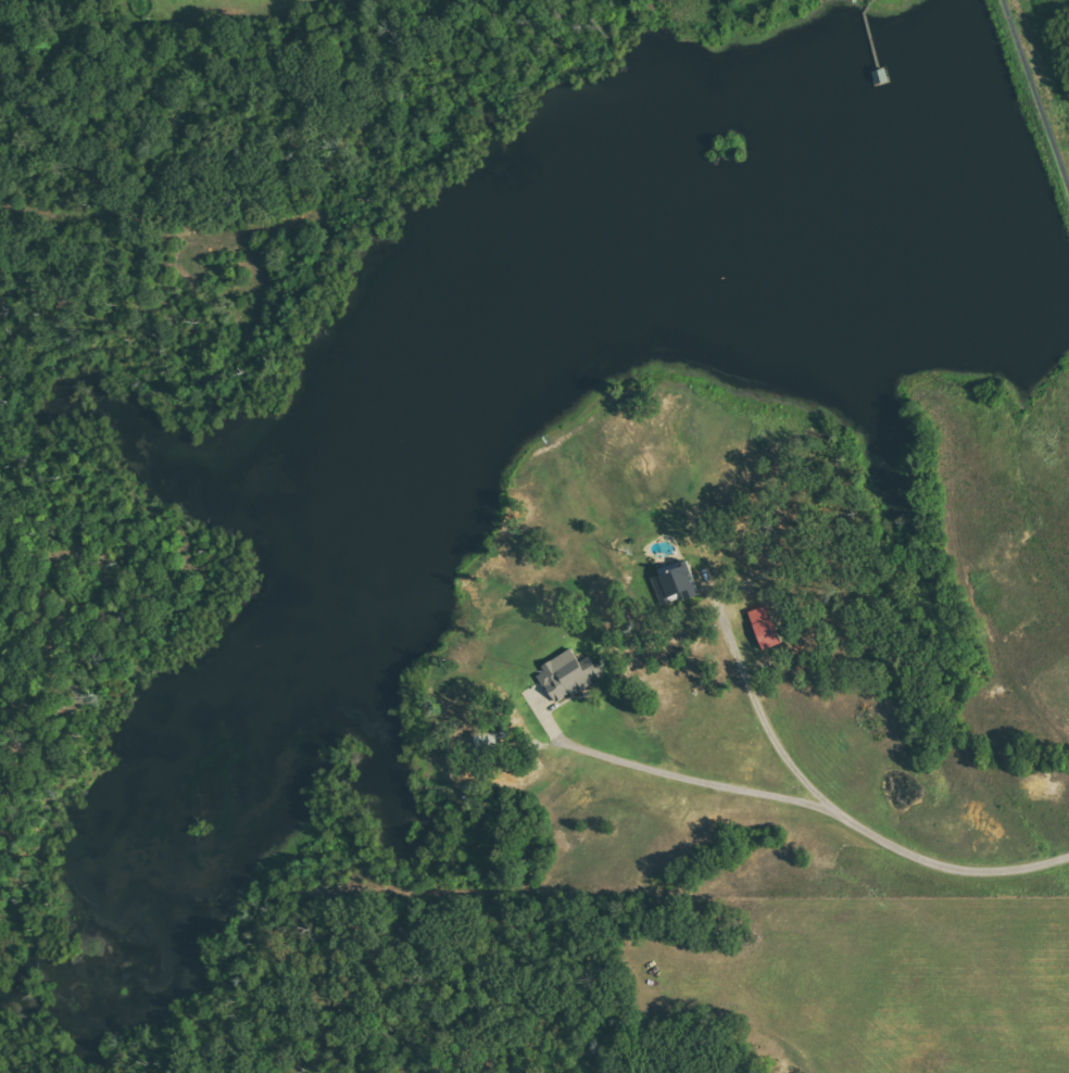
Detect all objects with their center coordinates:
road: (1034, 97)
building: (676, 582)
building: (765, 627)
building: (569, 674)
road: (756, 703)
road: (796, 806)

